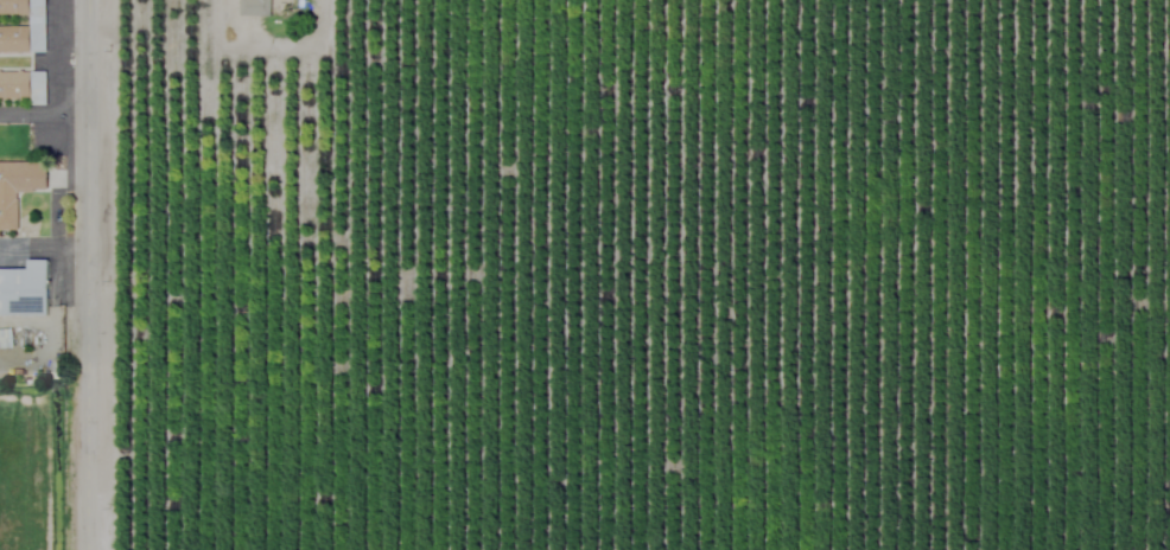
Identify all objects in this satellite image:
building: (252, 6)
building: (21, 26)
building: (13, 83)
road: (44, 111)
building: (15, 185)
road: (87, 274)
crop: (643, 287)
building: (21, 288)

